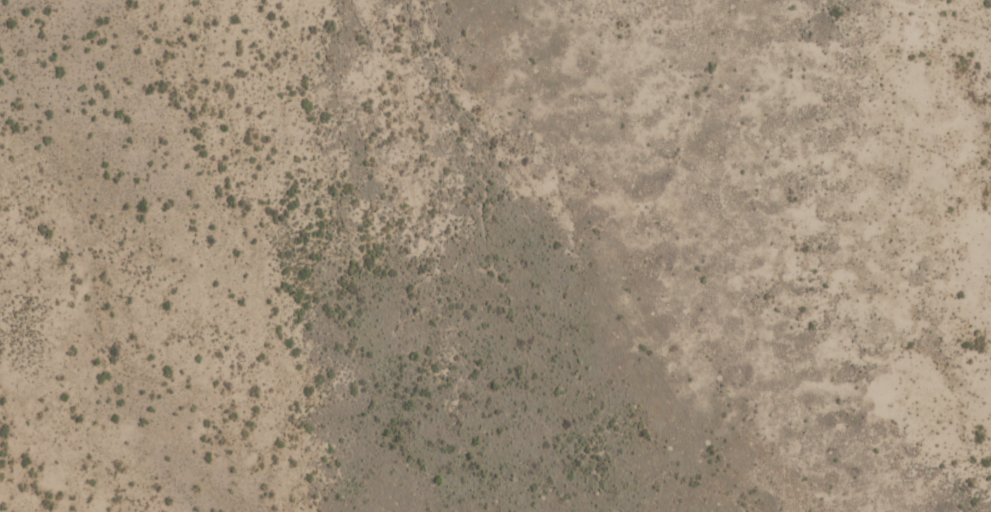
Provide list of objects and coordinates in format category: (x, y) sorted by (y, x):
road: (942, 14)

